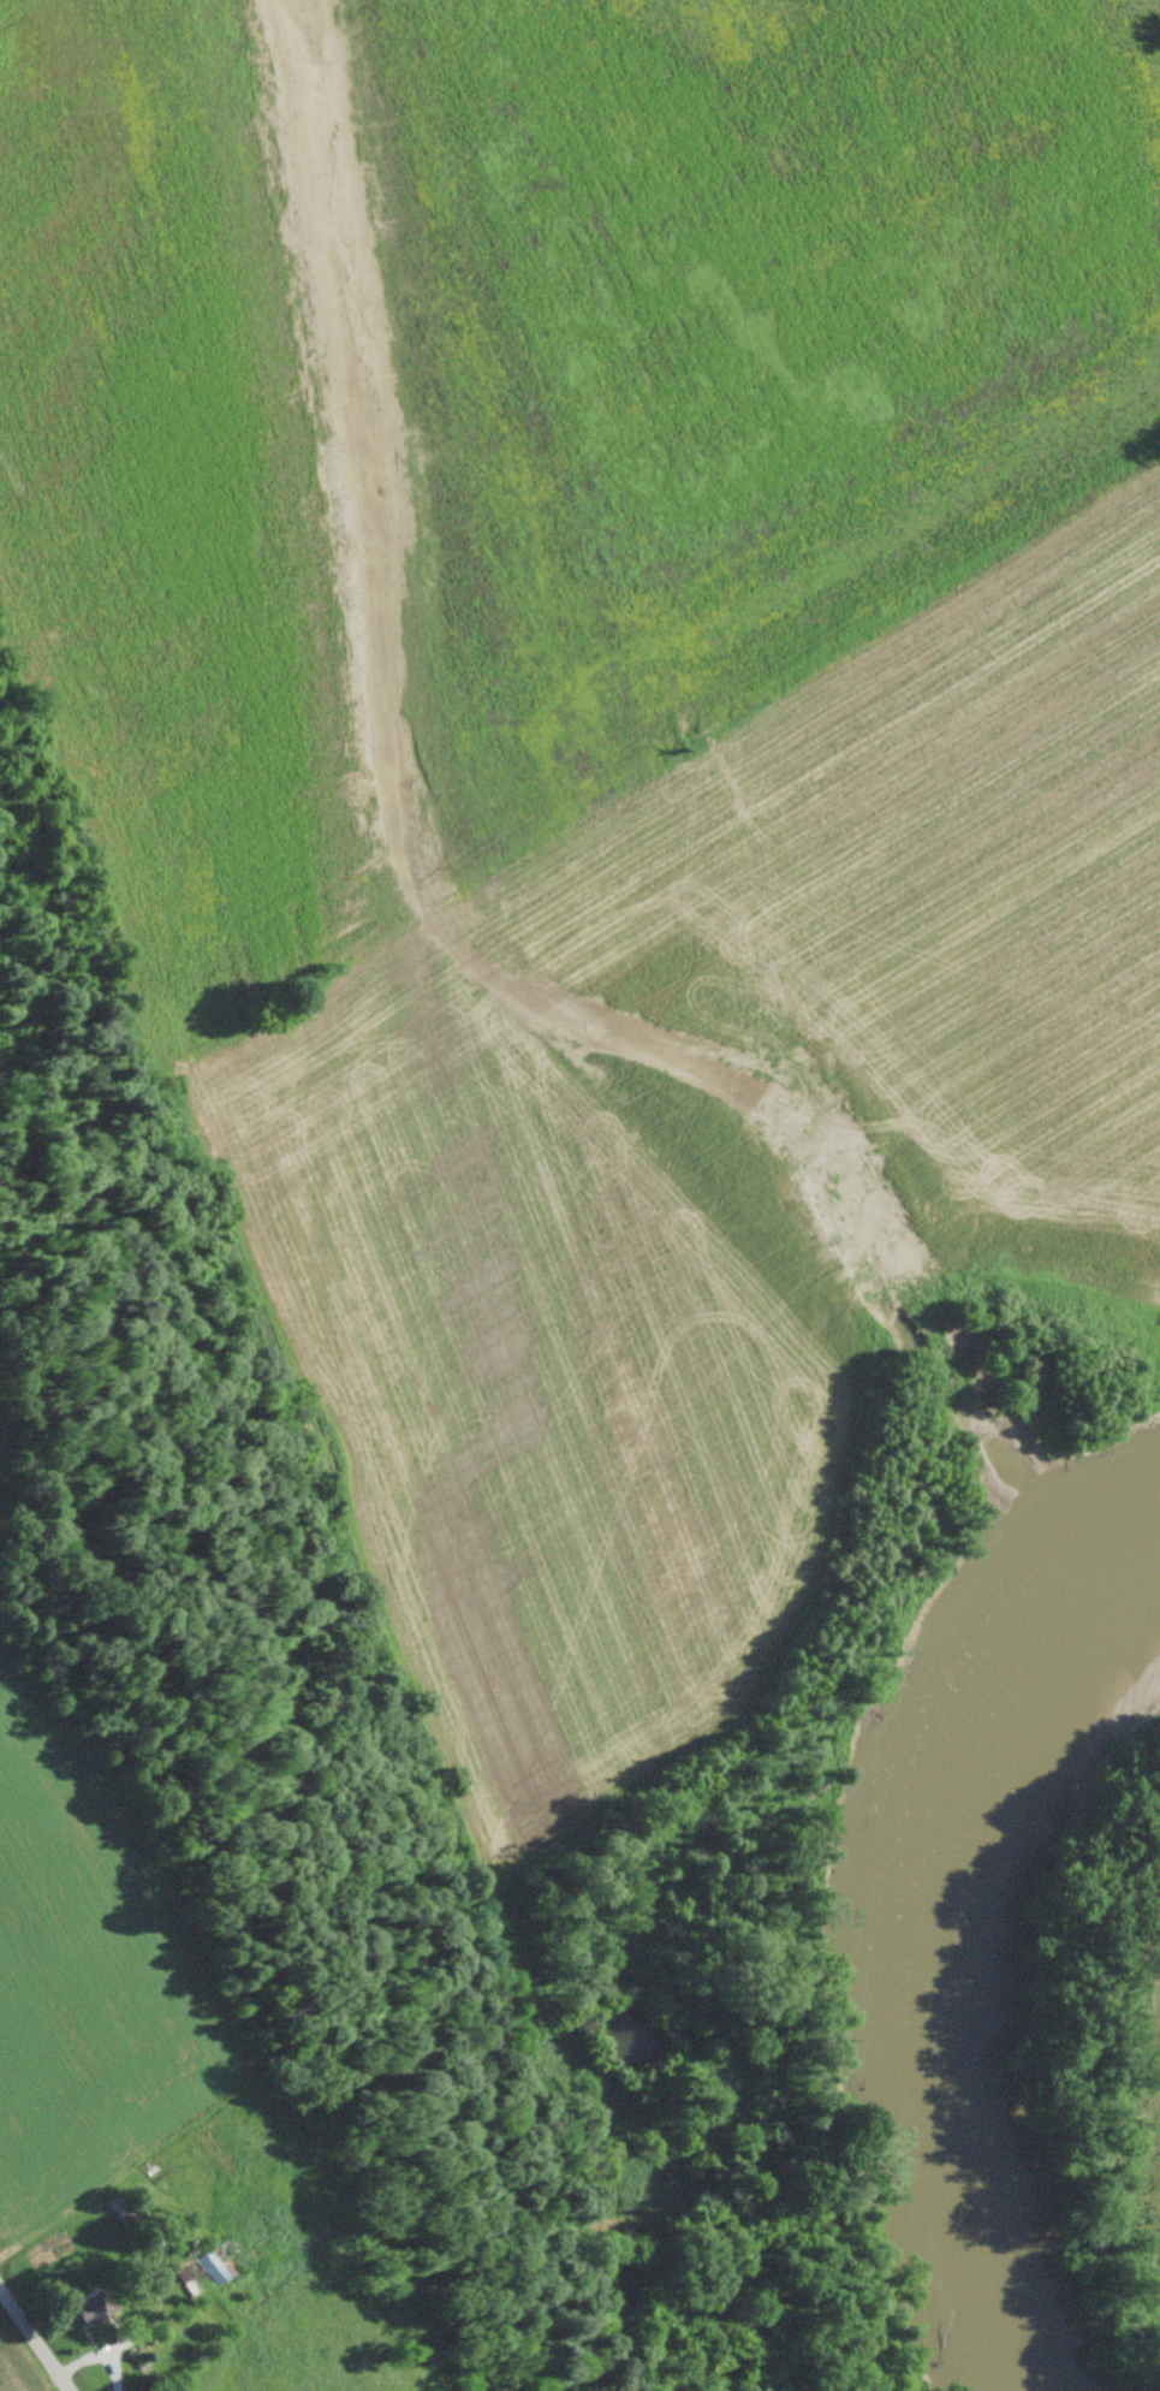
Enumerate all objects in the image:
road: (463, 524)
river: (957, 1966)
building: (120, 2208)
building: (204, 2272)
building: (95, 2304)
road: (53, 2308)

